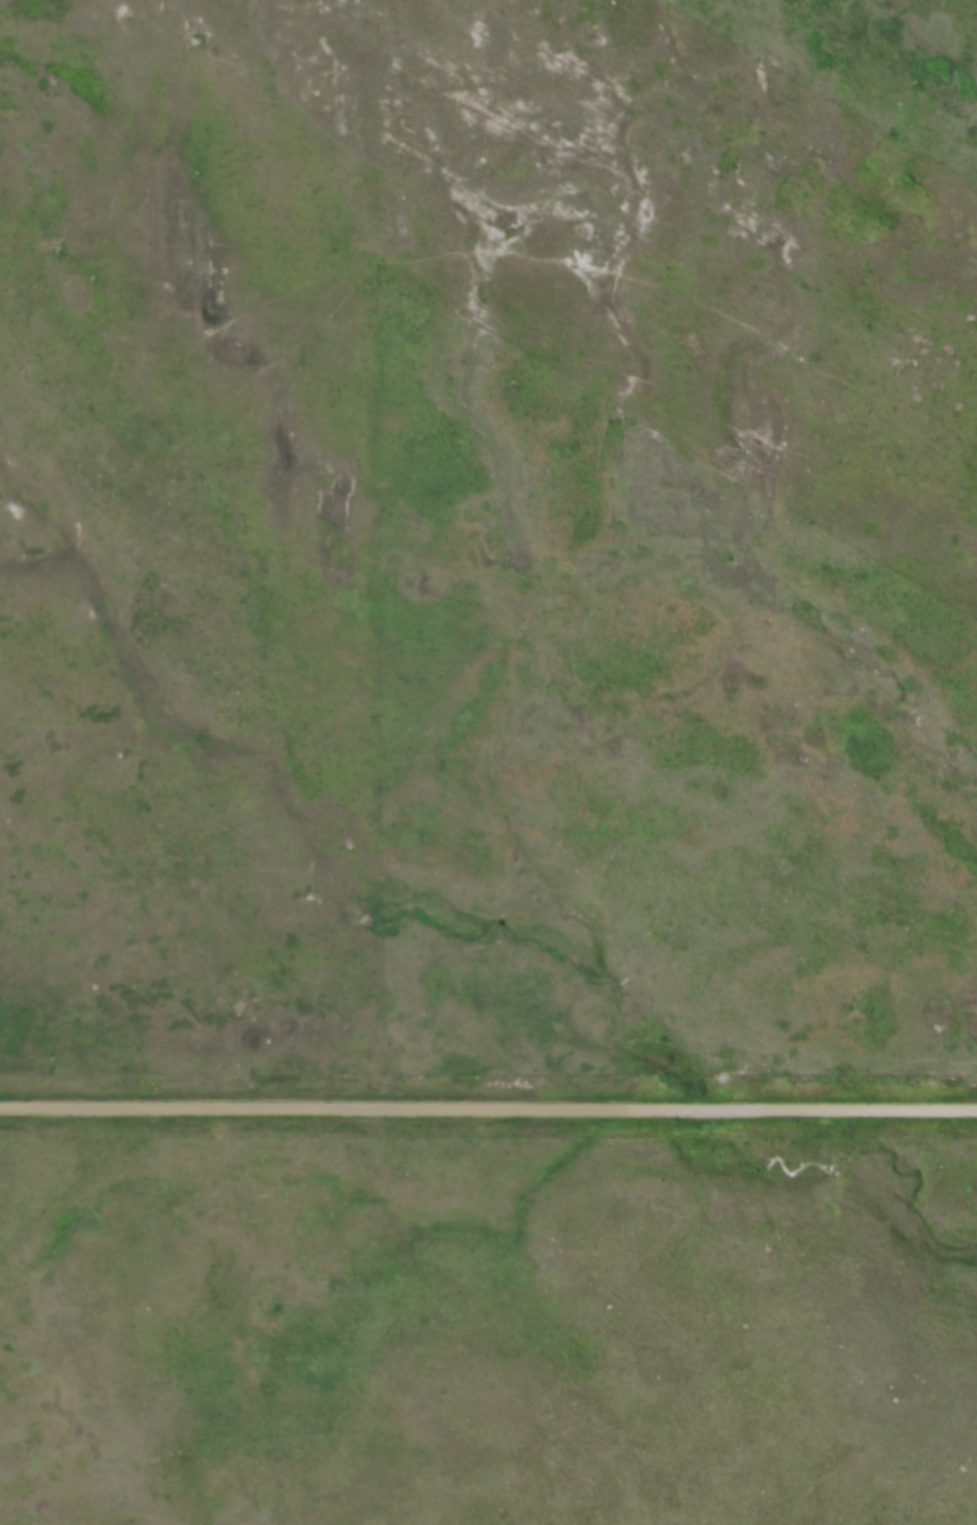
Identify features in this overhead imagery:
road: (488, 1104)

